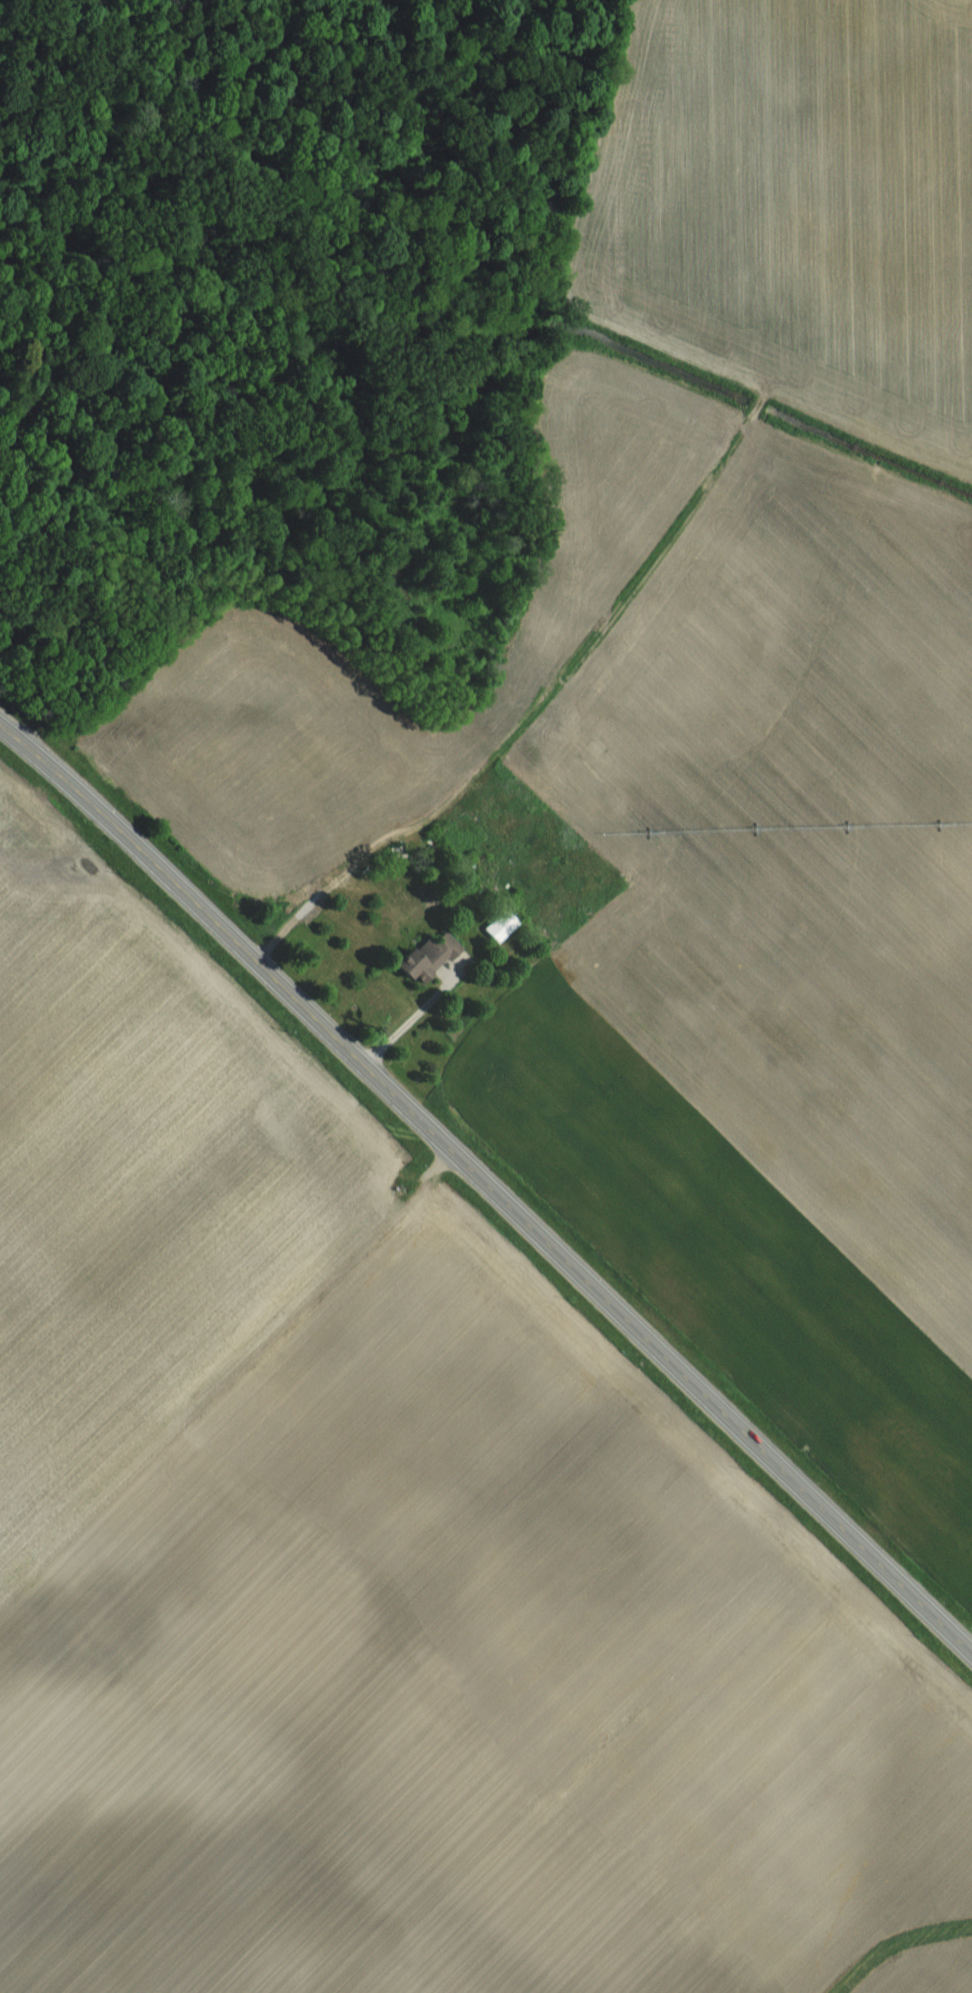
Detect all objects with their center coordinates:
building: (497, 925)
building: (421, 956)
road: (406, 1022)
road: (488, 1184)

